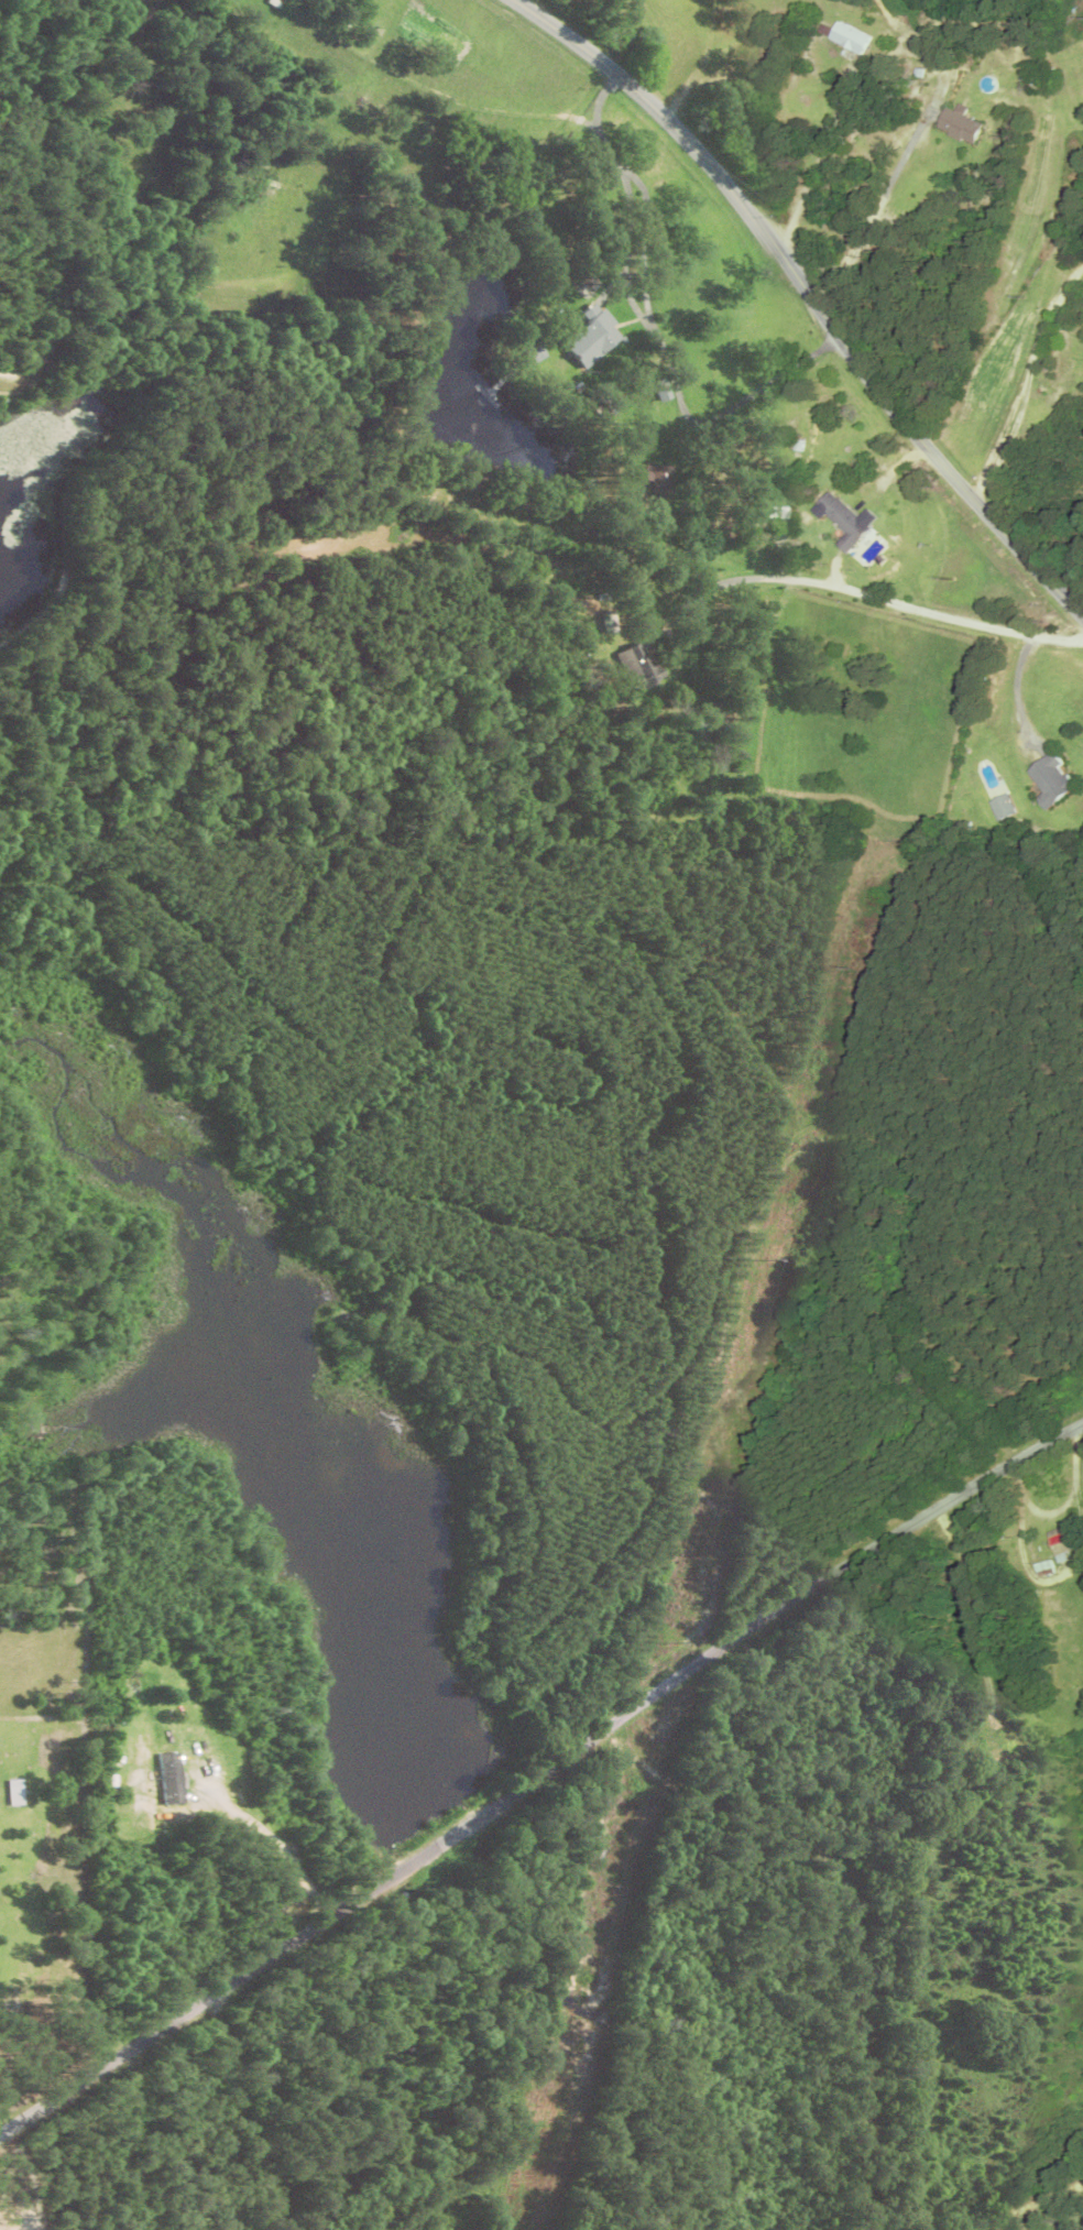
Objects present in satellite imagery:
building: (843, 39)
road: (814, 124)
building: (956, 125)
road: (811, 296)
building: (598, 338)
building: (841, 522)
road: (862, 593)
building: (637, 666)
building: (1047, 779)
road: (1016, 904)
road: (189, 1149)
road: (661, 1177)
road: (572, 1432)
road: (447, 1517)
building: (1058, 1543)
road: (536, 1771)
building: (174, 1779)
building: (20, 1796)
road: (275, 1837)
road: (488, 2002)
road: (387, 2060)
road: (86, 2144)
road: (40, 2172)

